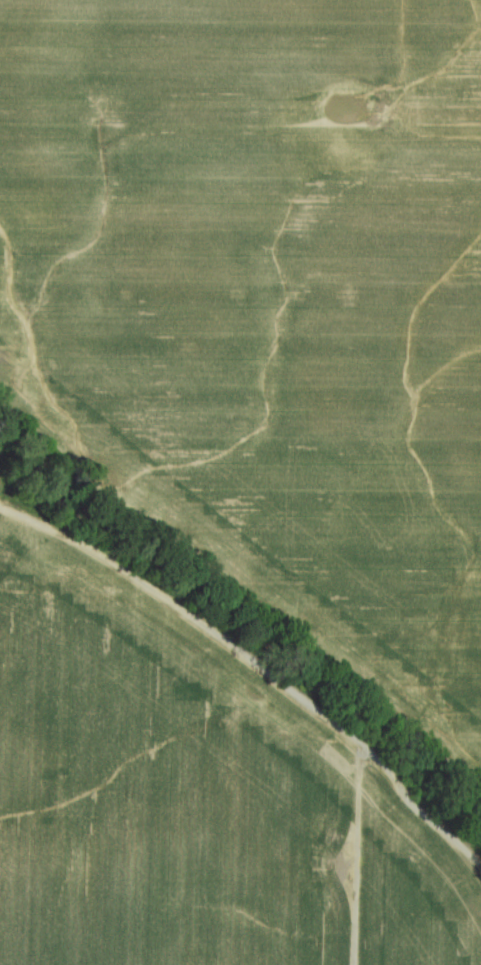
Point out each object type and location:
road: (257, 662)

